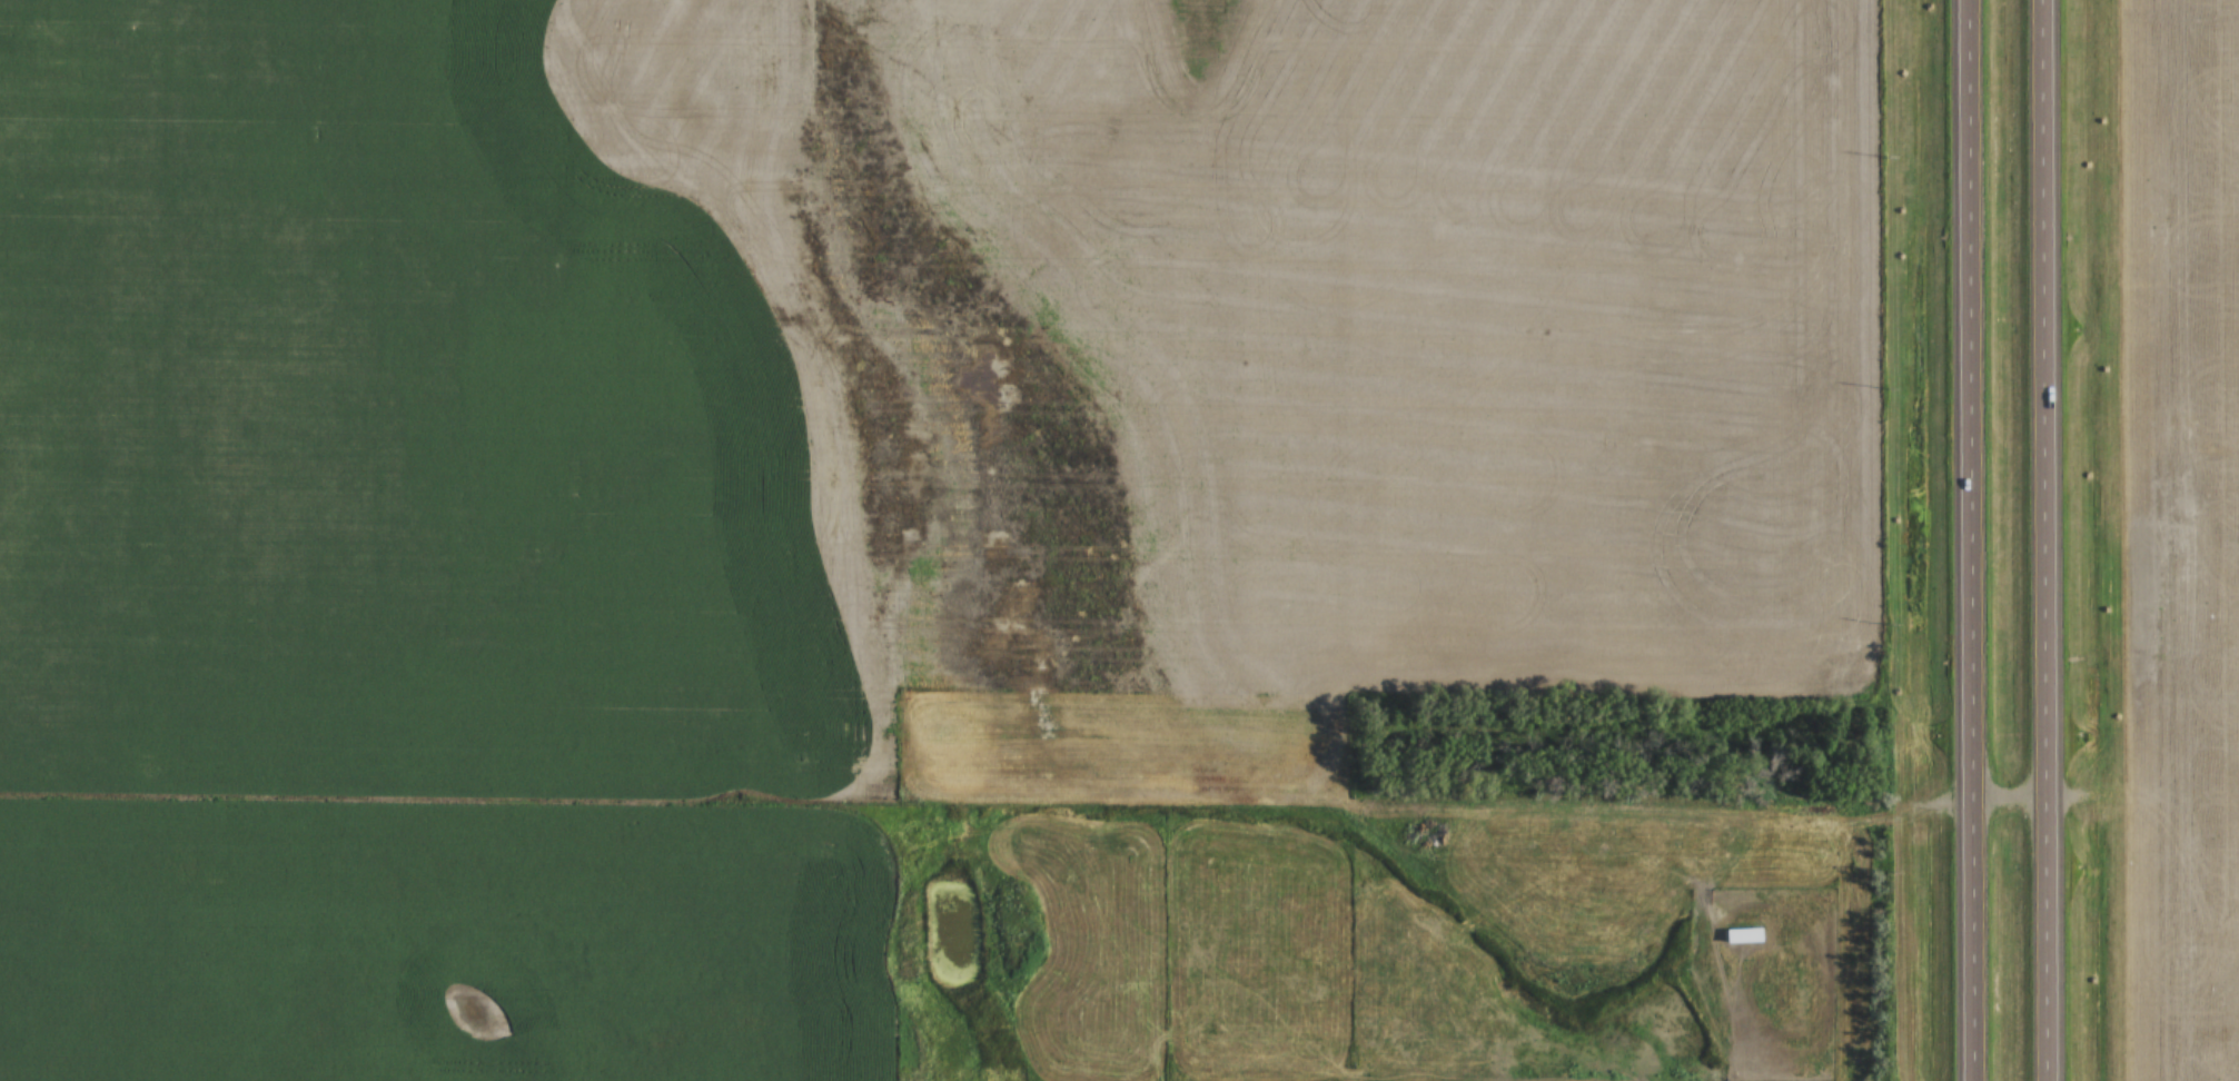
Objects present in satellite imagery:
road: (1960, 540)
road: (2039, 540)

